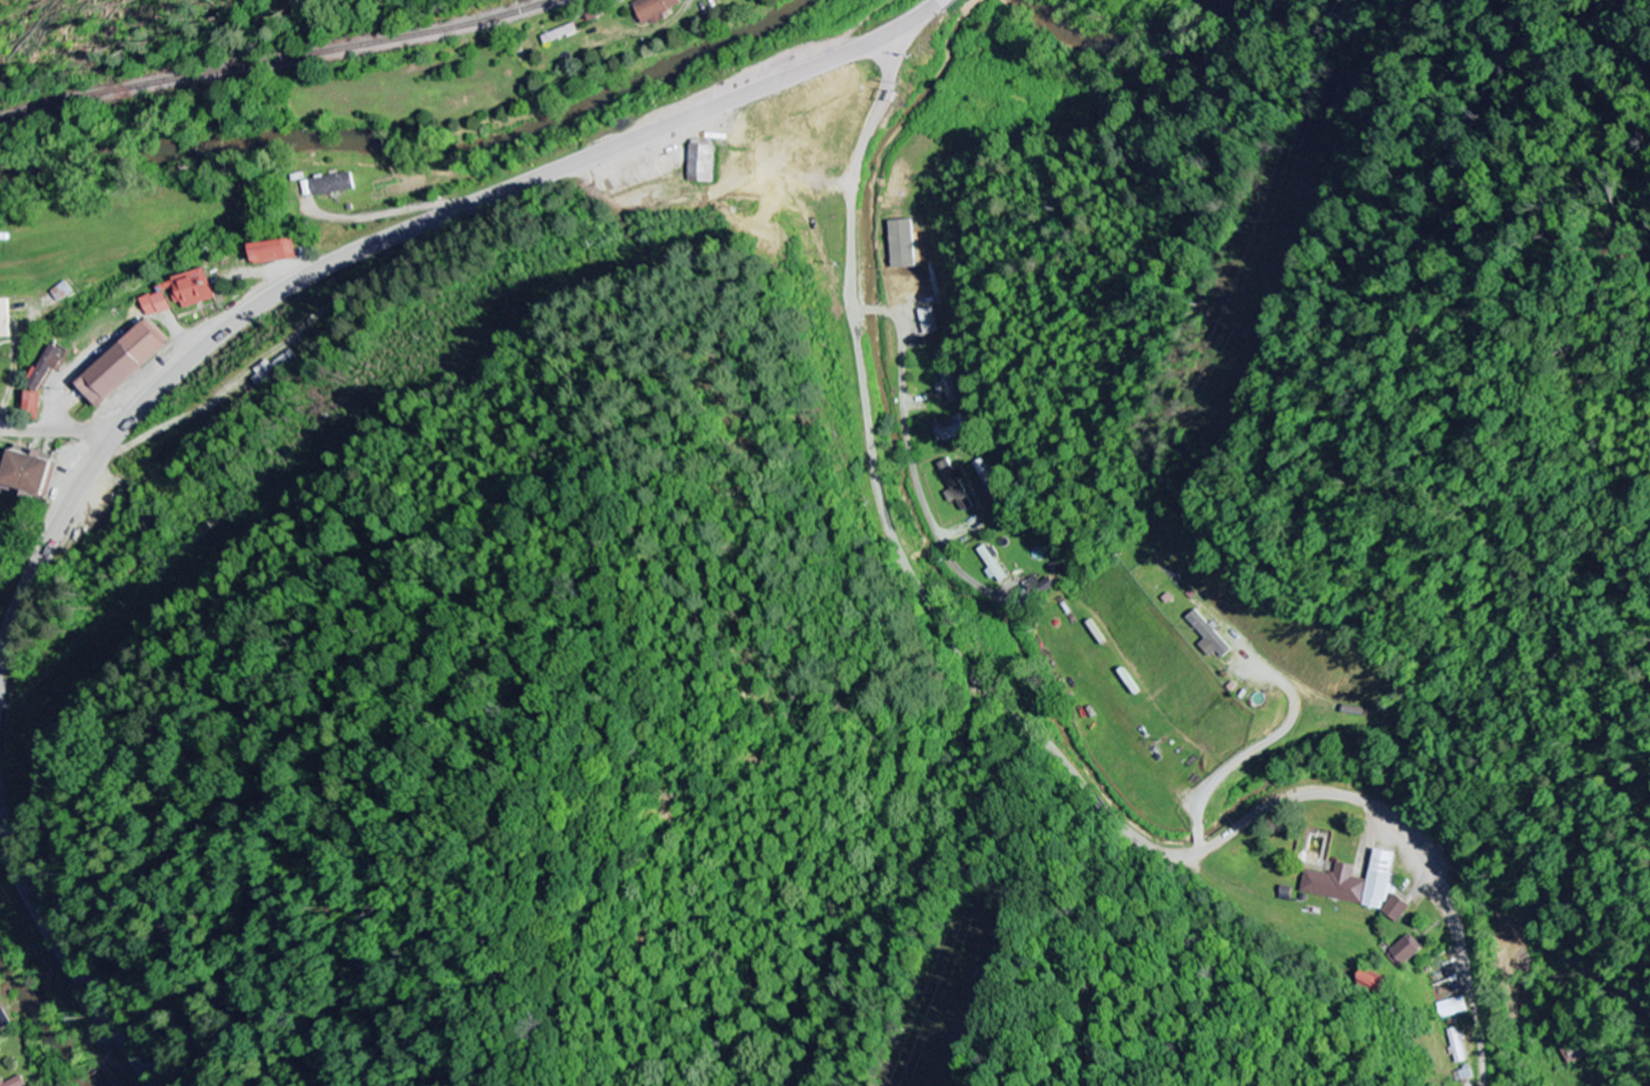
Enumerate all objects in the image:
building: (656, 10)
railway: (275, 59)
building: (703, 164)
building: (334, 186)
road: (382, 245)
building: (276, 253)
building: (193, 290)
building: (932, 298)
building: (159, 305)
building: (4, 320)
building: (126, 366)
building: (48, 368)
building: (947, 379)
road: (905, 400)
building: (33, 405)
building: (951, 429)
road: (59, 430)
building: (32, 475)
building: (957, 486)
building: (993, 565)
building: (1046, 587)
building: (1211, 637)
road: (1017, 724)
building: (1358, 882)
building: (1397, 910)
road: (67, 947)
building: (1405, 952)
building: (1373, 984)
building: (1453, 1008)
building: (1456, 1045)
building: (1576, 1052)
building: (14, 1083)

